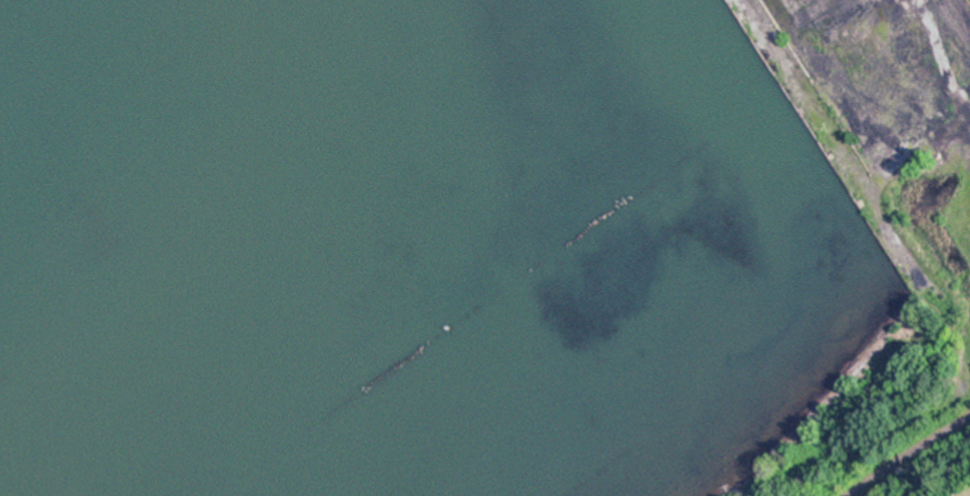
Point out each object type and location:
park: (905, 454)
road: (907, 456)

